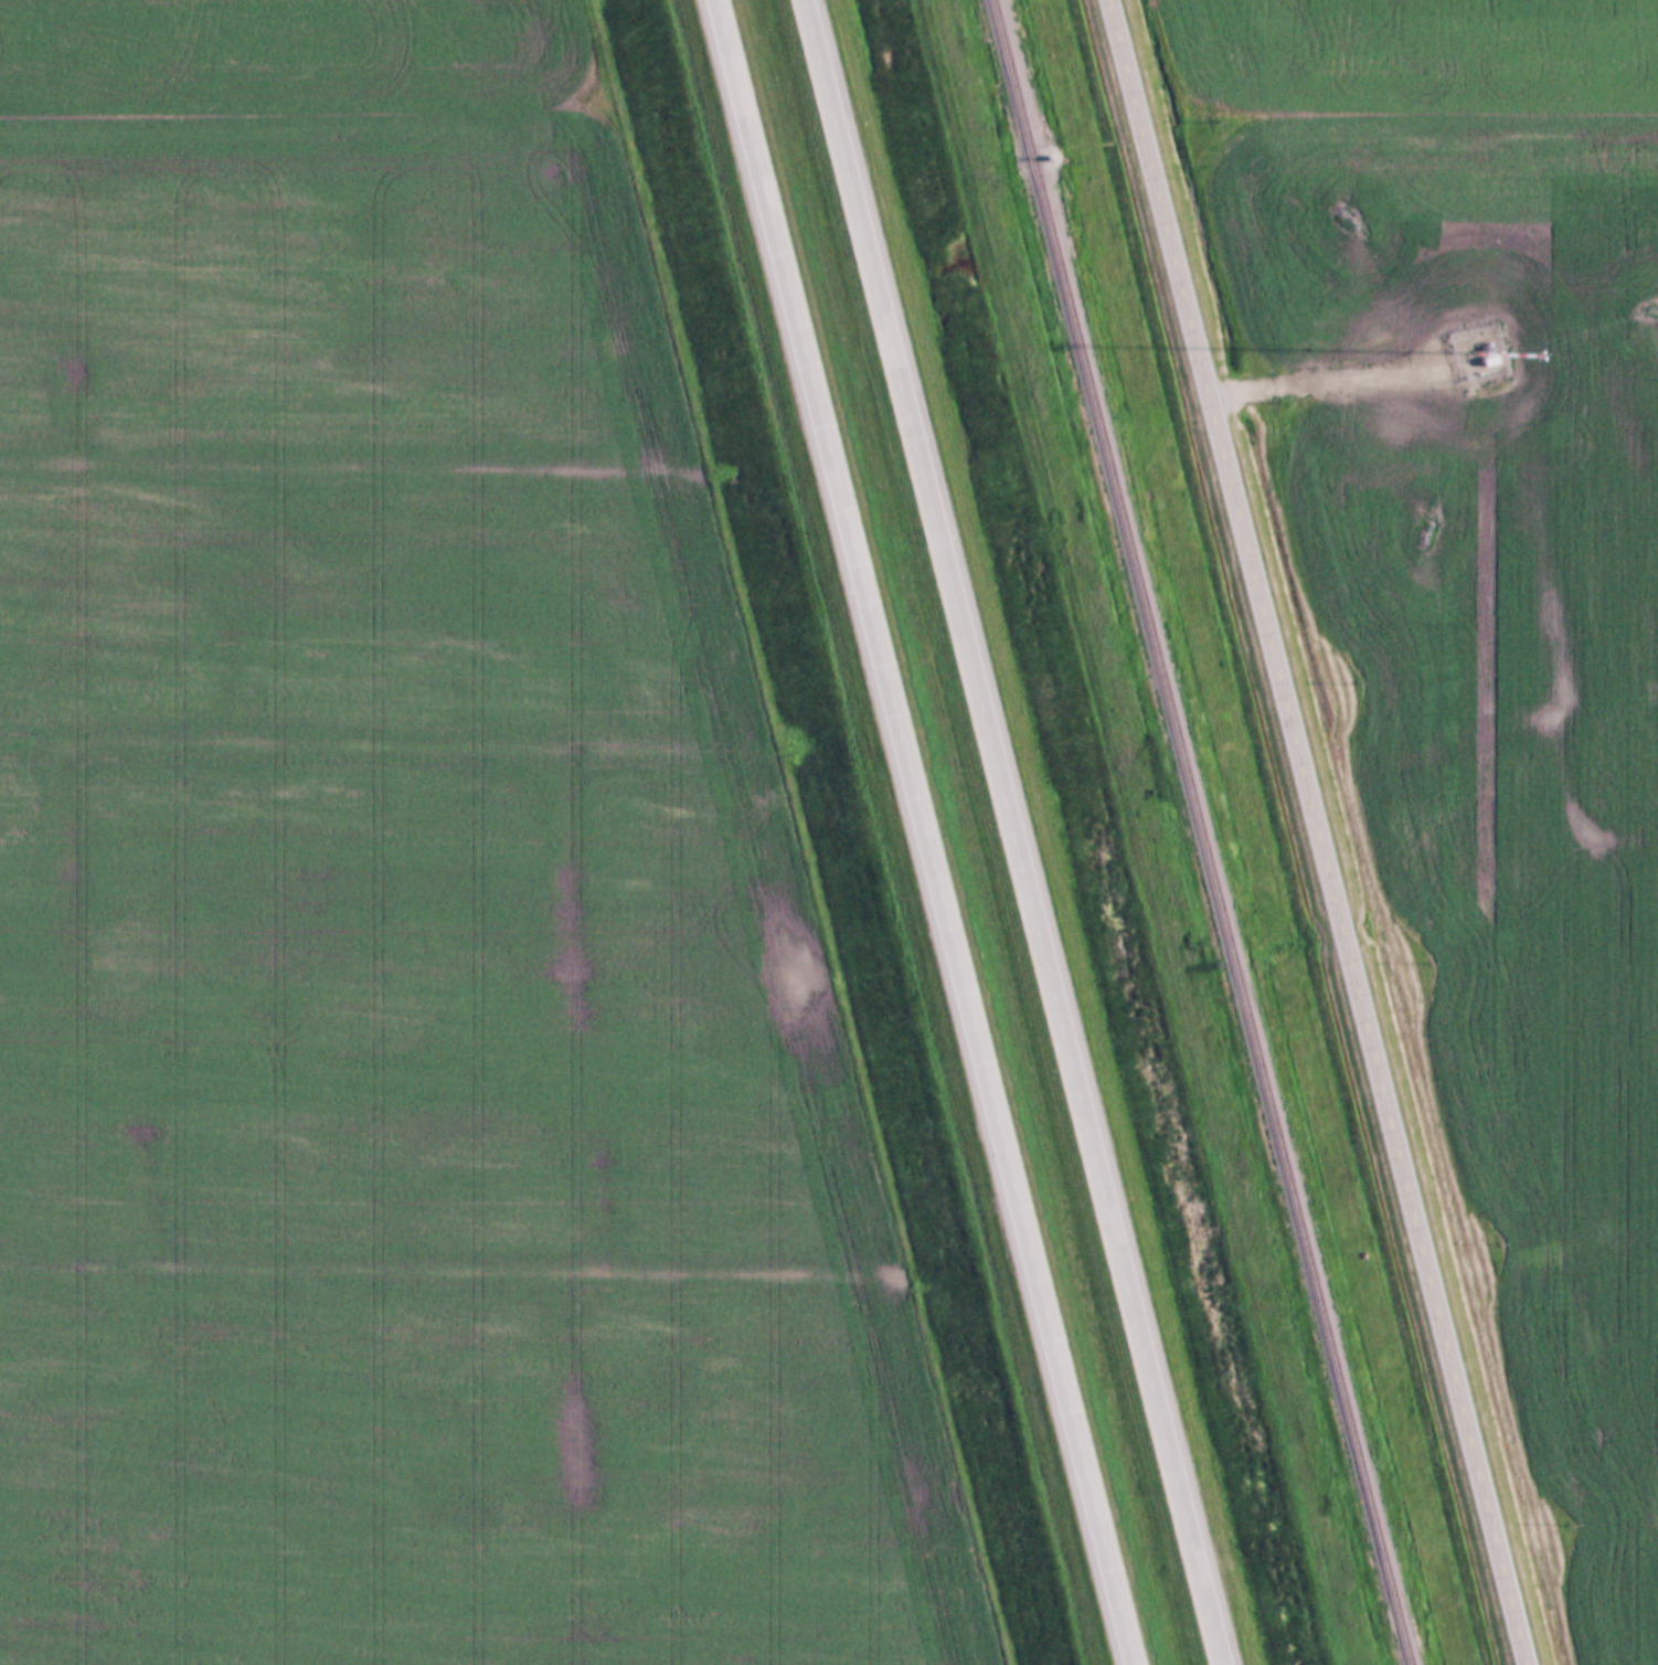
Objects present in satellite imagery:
building: (1497, 358)
road: (1329, 377)
railway: (1194, 831)
road: (927, 832)
road: (1013, 832)
road: (1319, 832)

